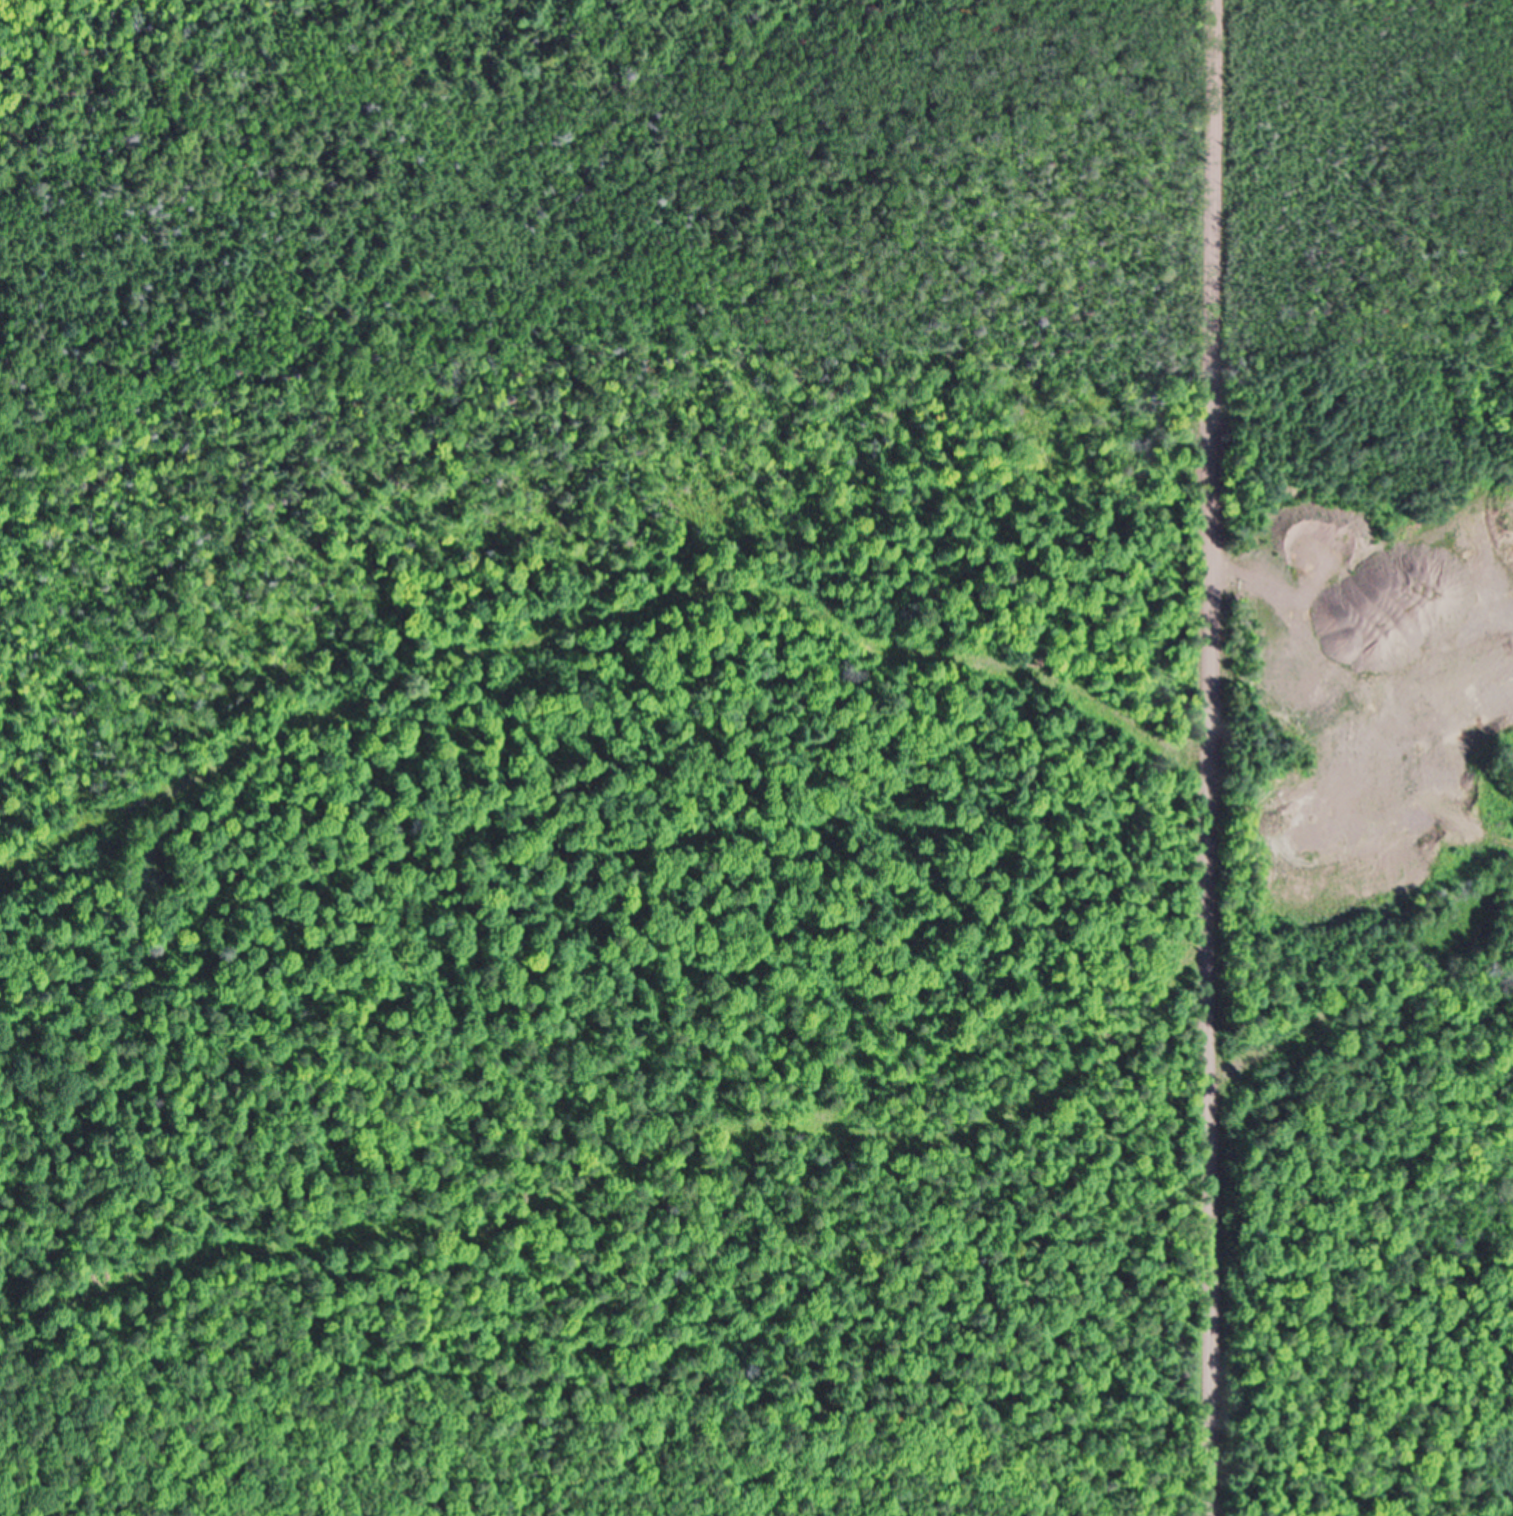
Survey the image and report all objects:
road: (1216, 757)

